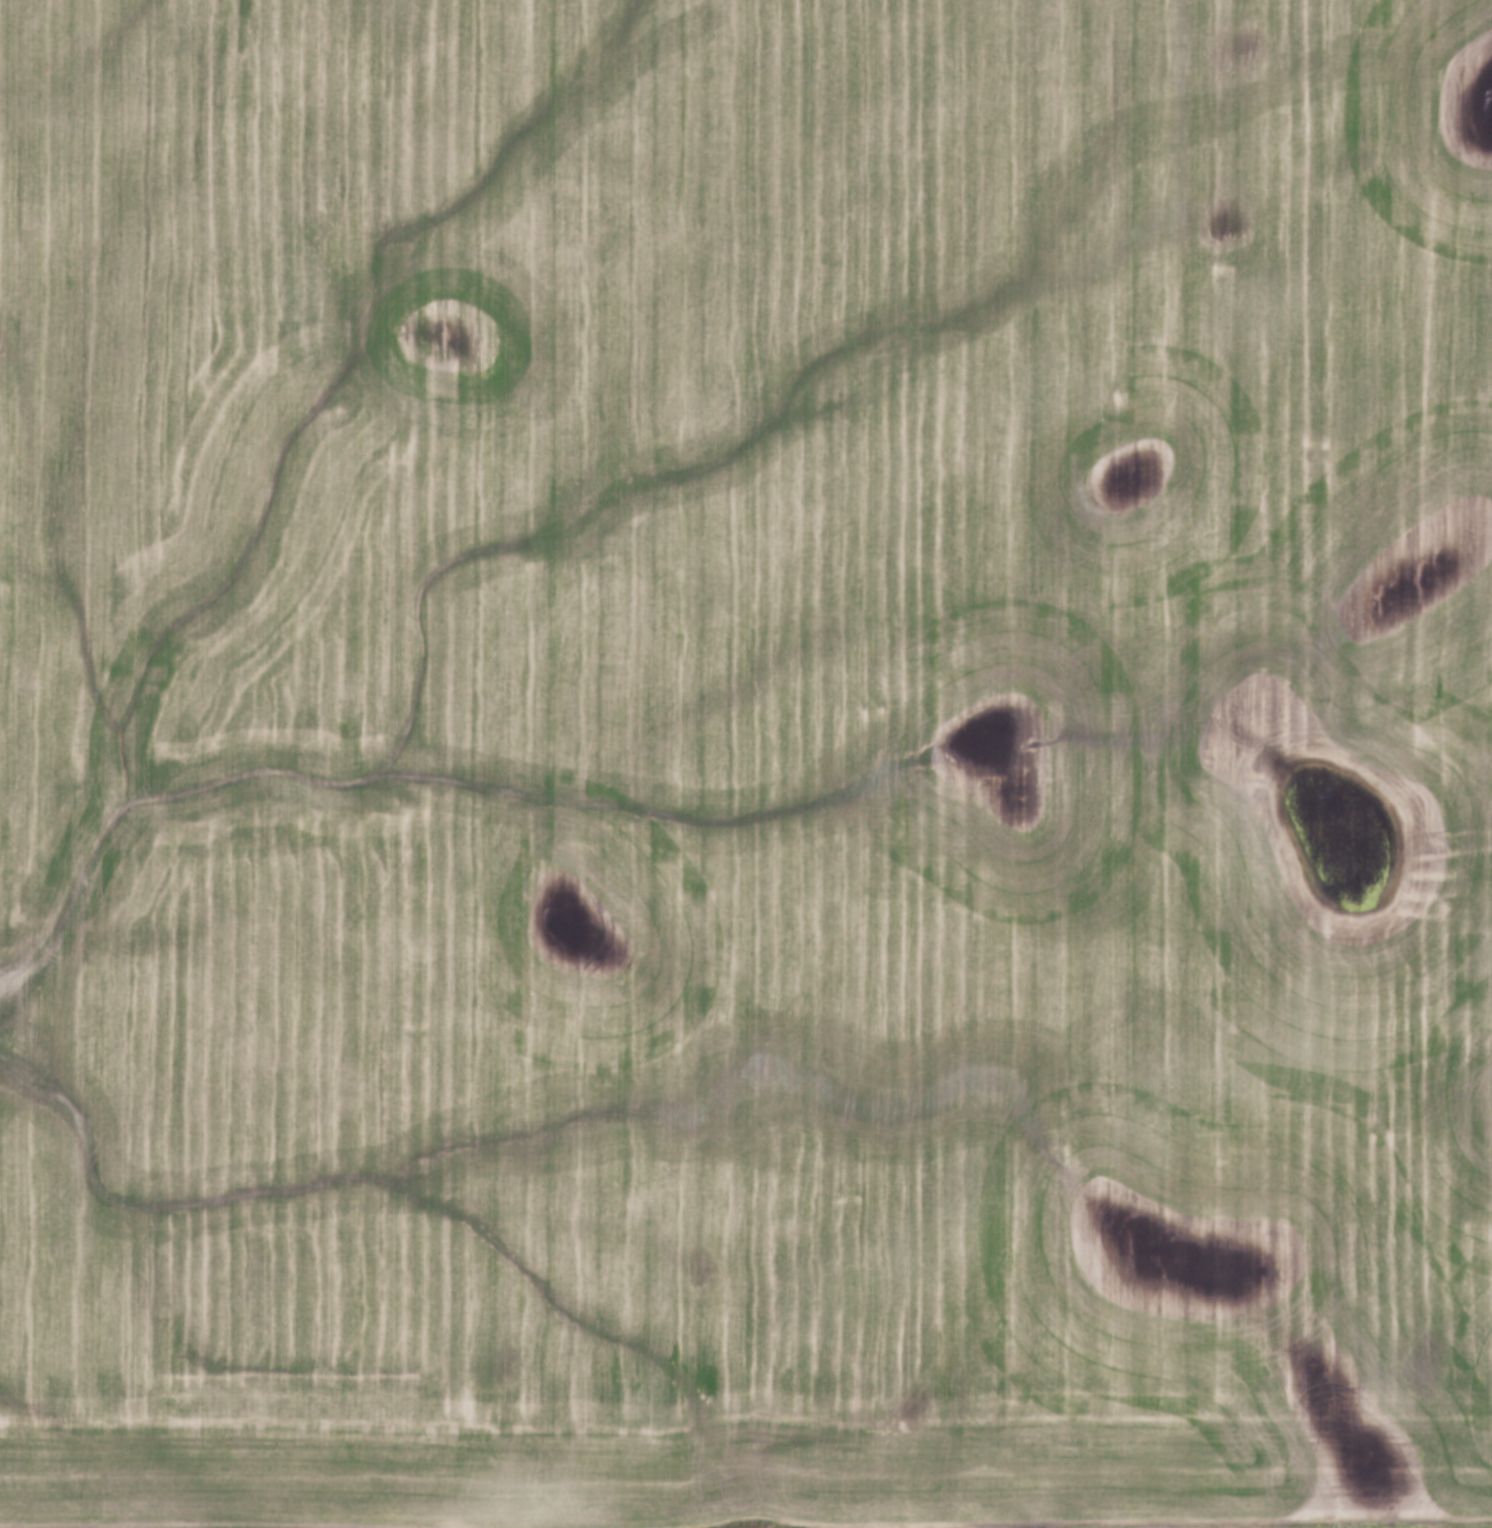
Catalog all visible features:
road: (1316, 1525)
road: (89, 1527)

